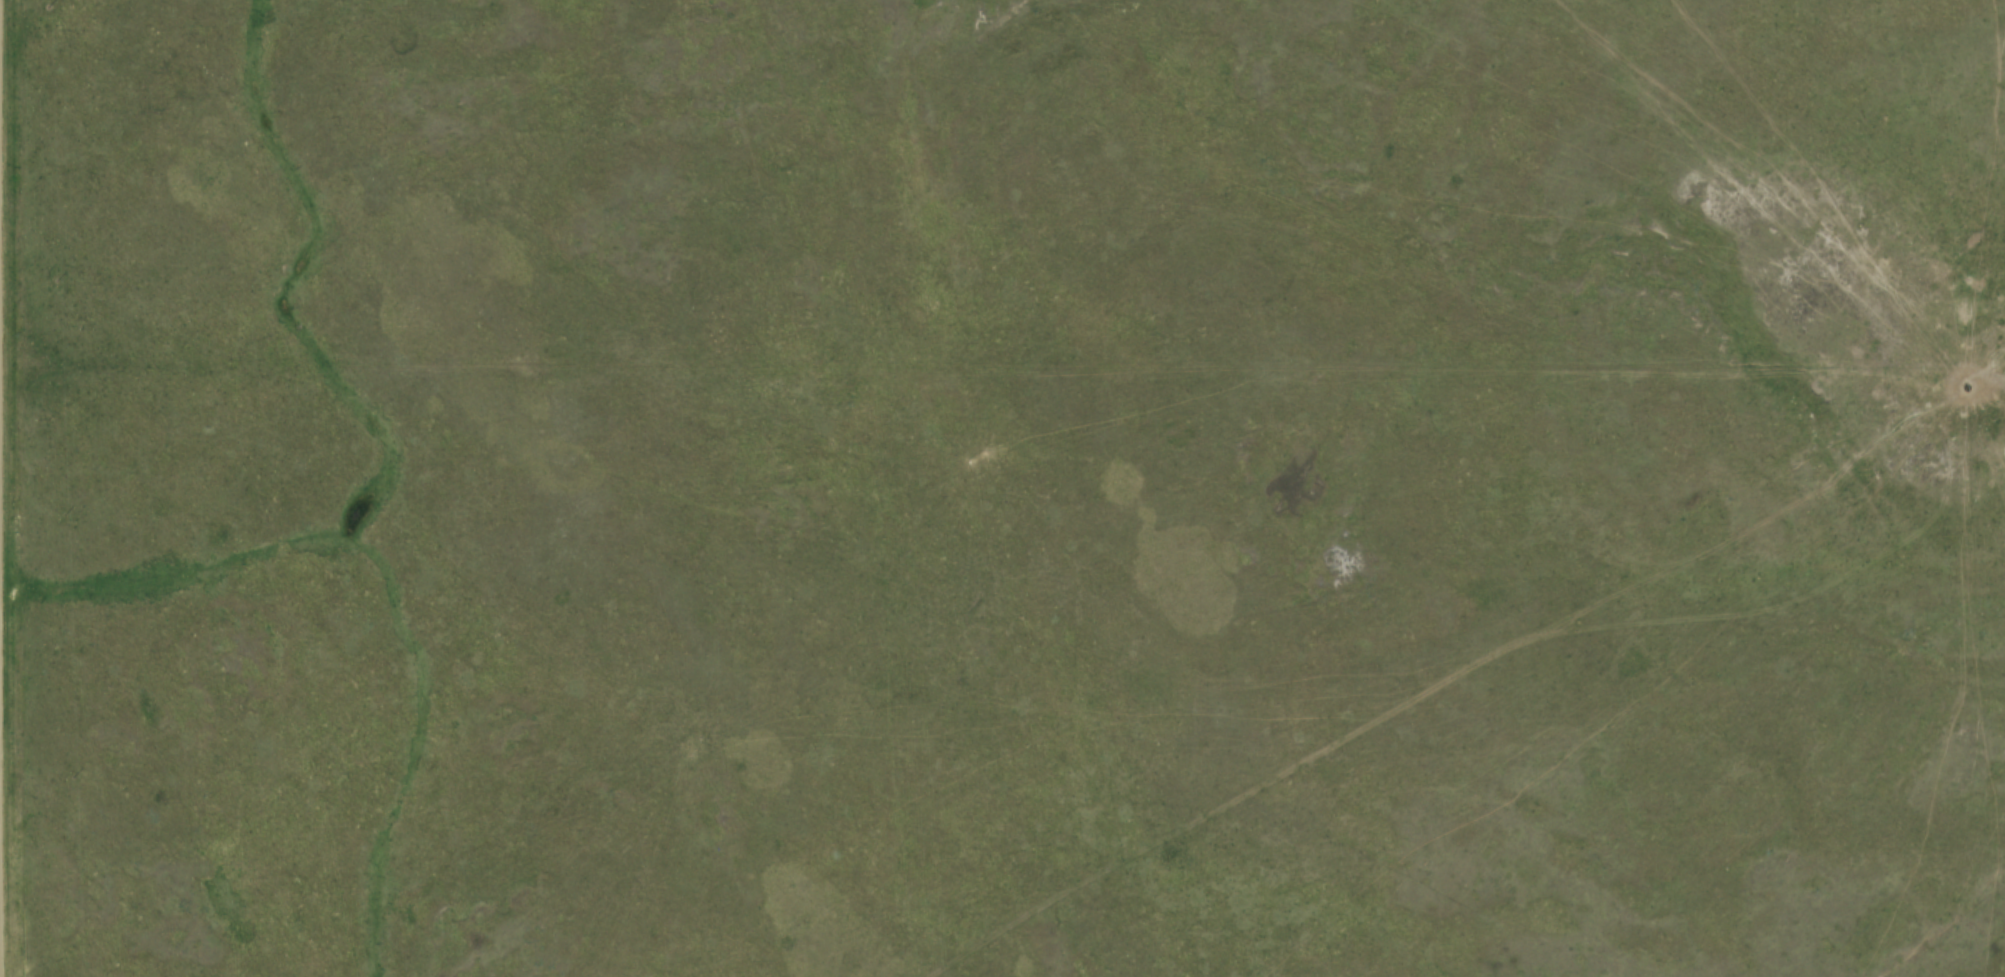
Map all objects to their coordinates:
road: (2, 488)

